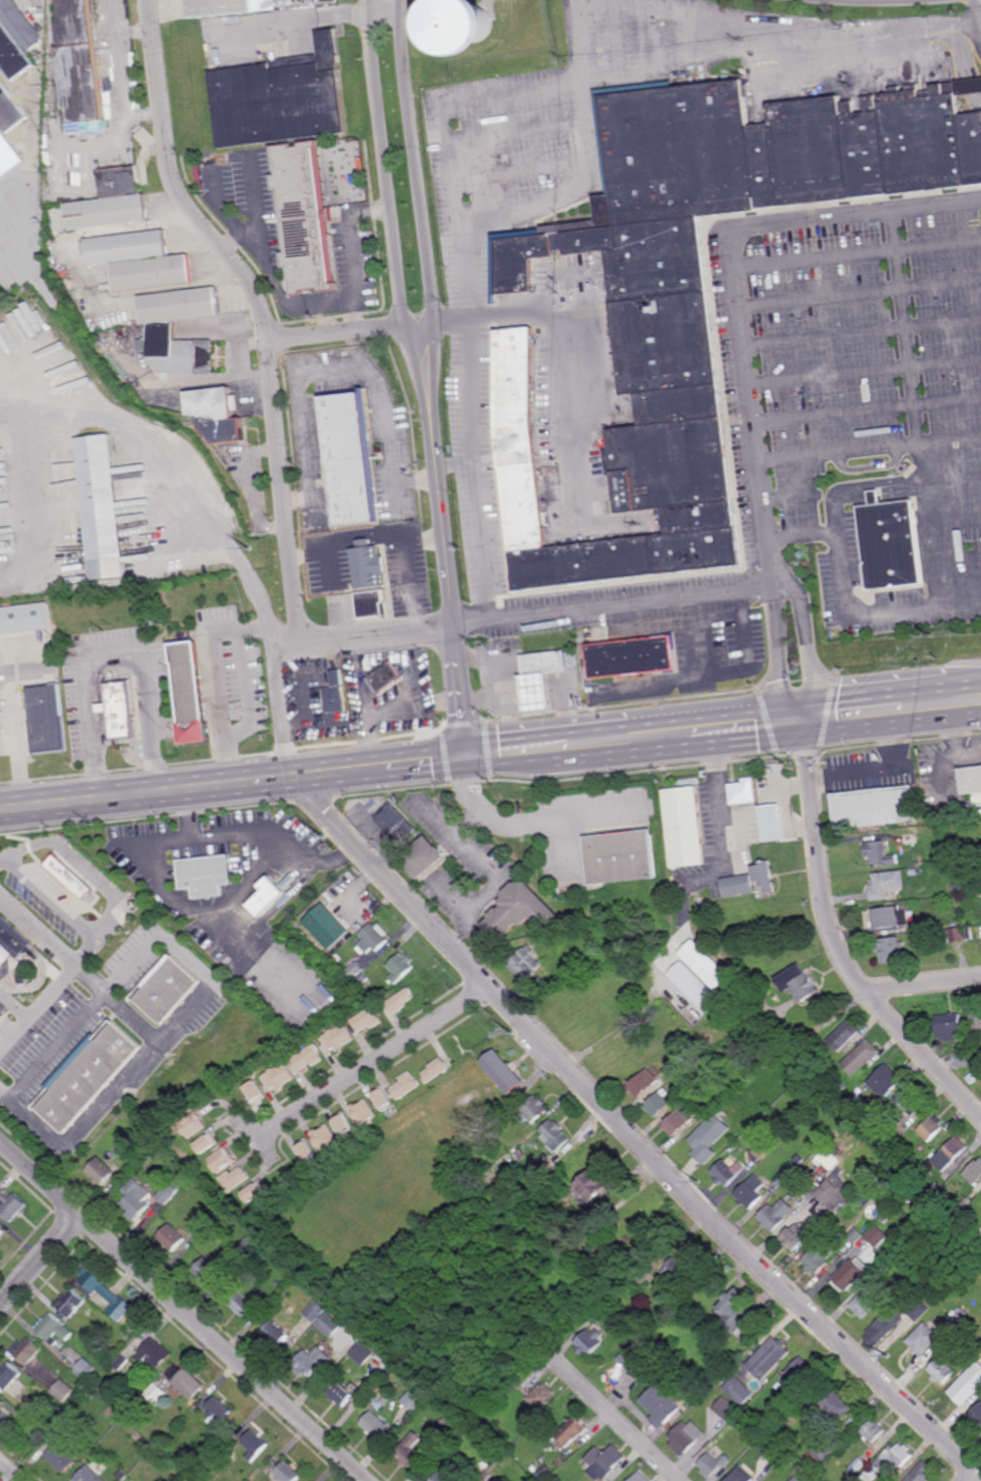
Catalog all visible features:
building: (280, 0)
building: (221, 9)
road: (303, 19)
building: (473, 32)
water tower: (473, 32)
building: (16, 39)
road: (783, 44)
building: (38, 58)
building: (81, 62)
building: (282, 97)
road: (461, 106)
building: (9, 129)
road: (415, 162)
road: (384, 164)
road: (176, 184)
road: (1, 192)
road: (549, 199)
building: (112, 200)
building: (305, 215)
road: (252, 229)
building: (128, 247)
road: (275, 271)
building: (152, 272)
building: (60, 274)
building: (67, 282)
road: (741, 286)
building: (70, 289)
road: (861, 291)
building: (695, 292)
building: (179, 305)
road: (352, 316)
road: (419, 326)
road: (907, 328)
building: (122, 333)
road: (336, 334)
building: (177, 352)
road: (432, 358)
road: (416, 360)
road: (344, 370)
road: (575, 371)
parking lot: (850, 384)
road: (470, 390)
road: (868, 411)
building: (218, 414)
road: (126, 431)
road: (870, 451)
building: (350, 456)
road: (456, 464)
building: (102, 508)
road: (956, 522)
road: (932, 527)
road: (802, 537)
road: (484, 541)
building: (893, 543)
power tower: (253, 550)
building: (369, 564)
road: (295, 565)
road: (452, 575)
road: (842, 575)
building: (328, 599)
building: (371, 603)
building: (350, 606)
road: (620, 607)
building: (25, 618)
road: (291, 639)
road: (808, 646)
road: (271, 648)
road: (114, 653)
road: (781, 654)
building: (629, 658)
road: (715, 674)
building: (543, 676)
building: (337, 677)
building: (386, 678)
road: (218, 683)
building: (194, 694)
road: (890, 694)
building: (336, 699)
building: (119, 709)
traffic signals: (804, 716)
building: (46, 718)
road: (891, 725)
road: (679, 732)
road: (513, 753)
traffic signals: (472, 758)
road: (871, 771)
building: (972, 783)
road: (236, 784)
building: (745, 792)
building: (876, 809)
road: (536, 820)
building: (395, 822)
building: (772, 823)
building: (686, 828)
power tower: (324, 839)
building: (912, 840)
road: (560, 847)
building: (979, 851)
building: (880, 855)
building: (425, 859)
building: (621, 859)
building: (919, 862)
building: (933, 869)
building: (915, 873)
building: (205, 874)
building: (66, 875)
building: (767, 878)
building: (887, 885)
building: (737, 886)
building: (268, 897)
building: (978, 898)
building: (335, 899)
building: (44, 907)
building: (275, 910)
building: (519, 912)
building: (353, 917)
building: (890, 918)
building: (931, 924)
building: (327, 926)
building: (313, 932)
building: (968, 933)
building: (954, 935)
building: (14, 937)
building: (373, 939)
road: (837, 942)
building: (331, 947)
building: (891, 950)
building: (703, 961)
building: (526, 962)
building: (401, 968)
road: (72, 970)
building: (354, 971)
building: (362, 980)
road: (925, 982)
building: (798, 984)
building: (695, 987)
building: (168, 988)
road: (203, 997)
building: (400, 999)
building: (3, 1010)
building: (367, 1018)
building: (976, 1018)
building: (949, 1026)
power tower: (514, 1035)
building: (843, 1035)
building: (338, 1037)
building: (846, 1049)
building: (860, 1055)
building: (308, 1056)
building: (964, 1056)
road: (371, 1064)
building: (676, 1068)
building: (435, 1069)
building: (503, 1070)
building: (88, 1075)
building: (279, 1076)
building: (972, 1077)
building: (884, 1080)
building: (642, 1082)
building: (406, 1084)
building: (693, 1086)
building: (844, 1086)
building: (255, 1092)
road: (6, 1094)
building: (384, 1097)
building: (908, 1097)
building: (658, 1101)
building: (709, 1106)
building: (534, 1108)
building: (364, 1111)
building: (677, 1121)
road: (37, 1123)
building: (344, 1123)
building: (194, 1125)
building: (932, 1127)
road: (634, 1132)
building: (554, 1134)
building: (326, 1136)
building: (711, 1137)
building: (888, 1140)
building: (209, 1144)
building: (765, 1146)
building: (481, 1149)
building: (307, 1150)
building: (951, 1152)
building: (799, 1158)
building: (828, 1158)
building: (223, 1160)
building: (541, 1164)
building: (728, 1168)
building: (102, 1171)
building: (527, 1171)
building: (974, 1171)
building: (785, 1172)
building: (236, 1179)
building: (180, 1181)
building: (592, 1183)
power tower: (700, 1183)
building: (936, 1185)
building: (751, 1191)
building: (833, 1191)
building: (255, 1192)
building: (168, 1194)
building: (138, 1198)
building: (966, 1198)
building: (11, 1205)
building: (599, 1211)
building: (776, 1214)
building: (884, 1218)
building: (862, 1225)
building: (201, 1228)
building: (1, 1233)
building: (856, 1235)
building: (877, 1235)
building: (795, 1237)
building: (174, 1238)
building: (209, 1239)
building: (253, 1245)
building: (821, 1253)
road: (41, 1261)
building: (653, 1266)
building: (882, 1269)
building: (209, 1271)
building: (677, 1272)
building: (850, 1273)
building: (95, 1280)
building: (281, 1285)
building: (865, 1302)
building: (72, 1304)
building: (243, 1304)
building: (121, 1309)
road: (185, 1310)
building: (735, 1310)
building: (917, 1310)
building: (316, 1311)
building: (960, 1316)
building: (330, 1323)
building: (882, 1328)
building: (53, 1329)
building: (134, 1330)
building: (275, 1335)
building: (922, 1338)
building: (588, 1341)
building: (26, 1351)
building: (362, 1353)
building: (155, 1354)
power tower: (885, 1357)
building: (770, 1358)
building: (636, 1359)
building: (311, 1362)
building: (121, 1363)
building: (665, 1368)
building: (86, 1370)
building: (941, 1371)
building: (799, 1374)
building: (9, 1378)
building: (187, 1384)
building: (967, 1385)
building: (64, 1391)
building: (740, 1391)
building: (345, 1392)
building: (157, 1393)
building: (381, 1394)
building: (540, 1398)
building: (386, 1399)
building: (414, 1400)
building: (1, 1401)
building: (831, 1404)
building: (660, 1405)
building: (218, 1409)
building: (727, 1409)
building: (59, 1411)
building: (774, 1415)
building: (976, 1415)
building: (3, 1417)
road: (616, 1419)
building: (445, 1421)
building: (67, 1423)
building: (375, 1424)
building: (750, 1427)
building: (873, 1430)
building: (570, 1431)
building: (685, 1437)
building: (254, 1443)
building: (159, 1450)
building: (823, 1450)
building: (154, 1452)
building: (775, 1453)
building: (411, 1454)
building: (191, 1455)
building: (893, 1456)
building: (60, 1457)
building: (791, 1461)
building: (603, 1462)
building: (713, 1464)
building: (856, 1467)
road: (11, 1470)
building: (288, 1471)
building: (544, 1471)
building: (920, 1473)
building: (88, 1474)
building: (122, 1474)
building: (741, 1475)
building: (488, 1476)
building: (640, 1477)
building: (441, 1478)
building: (809, 1478)
building: (866, 1478)
building: (796, 1479)
road: (978, 1479)
building: (483, 1480)
building: (548, 1480)

